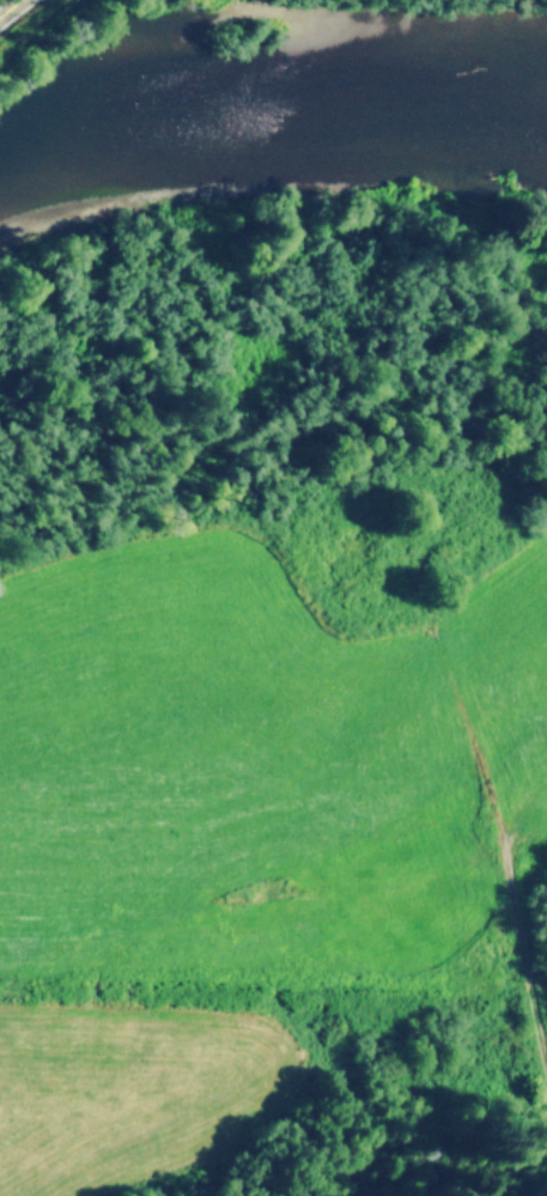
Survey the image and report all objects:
road: (8, 6)
river: (263, 116)
crop: (256, 839)
road: (502, 848)

